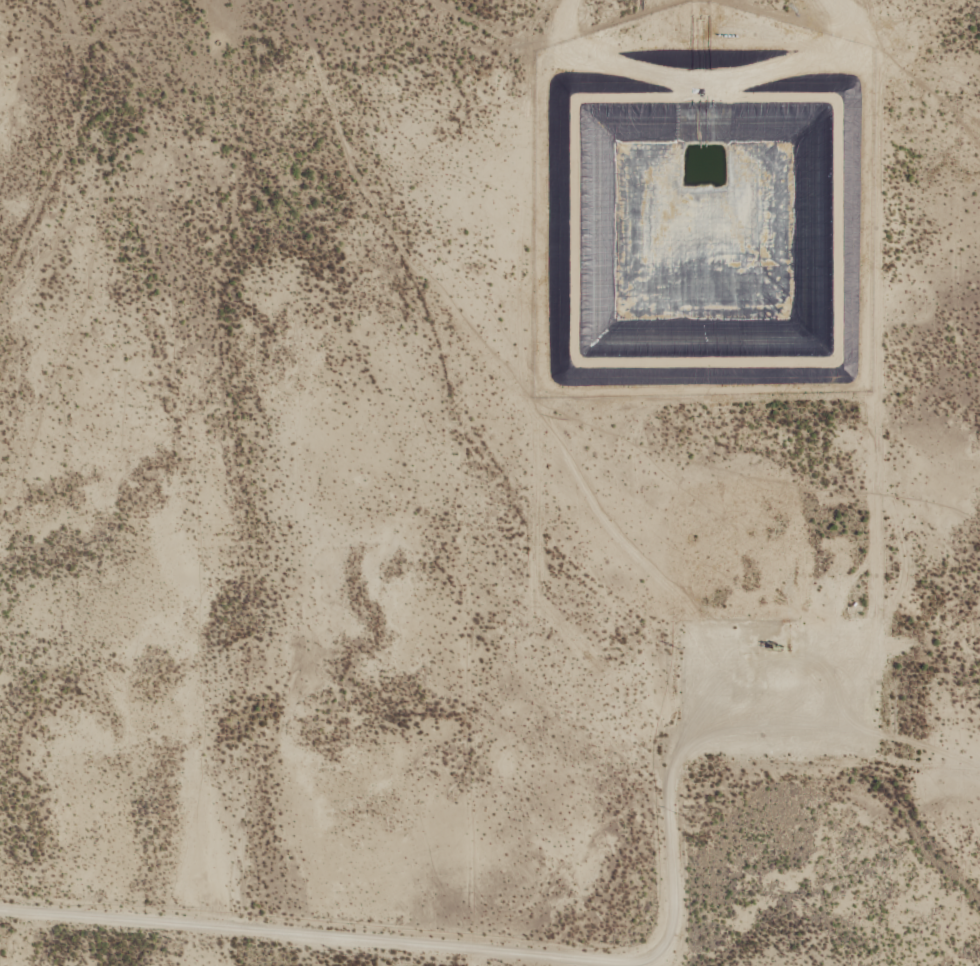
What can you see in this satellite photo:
road: (353, 92)
road: (484, 437)

